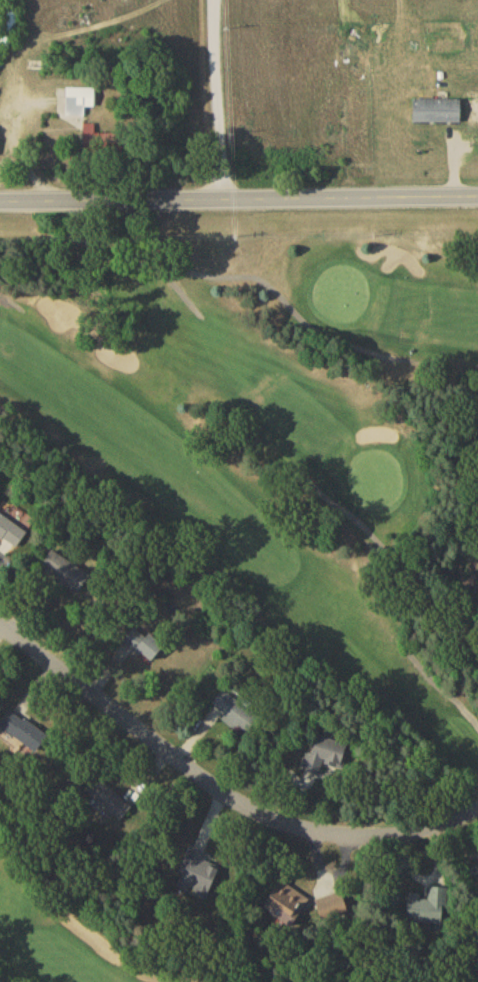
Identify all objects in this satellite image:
building: (10, 28)
building: (368, 70)
road: (218, 101)
building: (81, 104)
building: (439, 113)
road: (11, 123)
building: (104, 145)
road: (24, 153)
road: (239, 201)
road: (263, 283)
road: (176, 290)
road: (10, 304)
building: (12, 534)
building: (66, 575)
park: (239, 602)
building: (151, 648)
road: (443, 692)
building: (237, 715)
building: (25, 733)
building: (324, 757)
road: (219, 789)
building: (109, 802)
building: (201, 879)
building: (287, 907)
building: (334, 909)
building: (429, 910)

